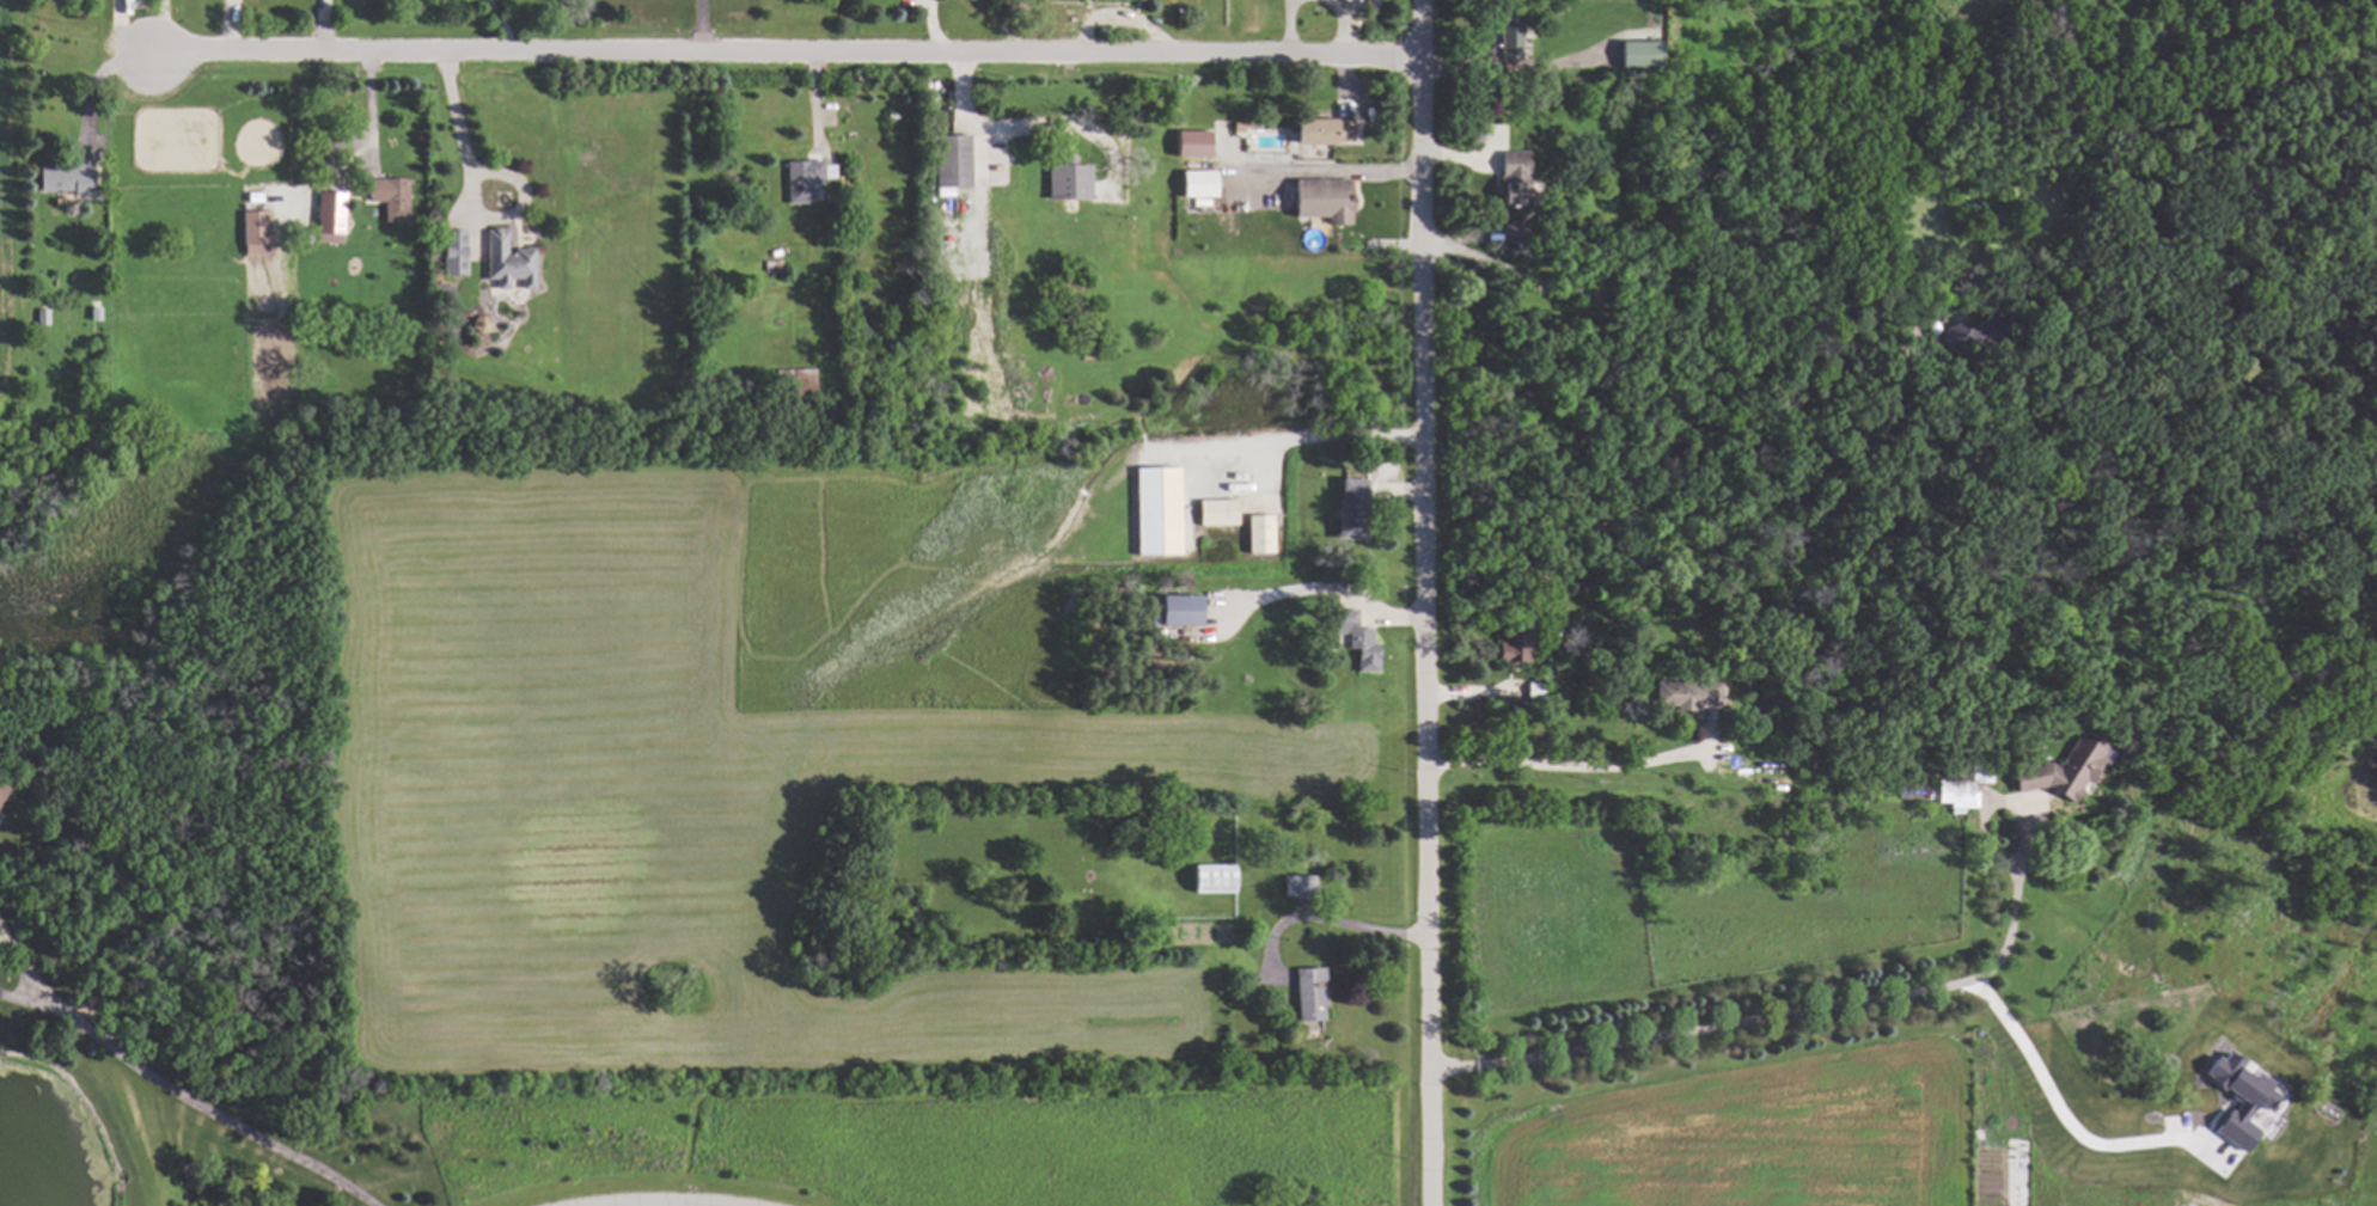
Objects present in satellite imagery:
road: (702, 27)
building: (1509, 42)
building: (1636, 55)
road: (778, 56)
road: (984, 126)
road: (458, 130)
building: (1319, 131)
building: (1187, 143)
building: (948, 161)
road: (1328, 161)
building: (63, 178)
building: (1511, 179)
building: (799, 180)
building: (1064, 180)
building: (1196, 184)
building: (387, 198)
building: (1318, 201)
building: (326, 218)
building: (251, 233)
building: (450, 253)
building: (506, 262)
road: (1662, 355)
building: (793, 382)
road: (1306, 435)
building: (1346, 509)
building: (1154, 512)
building: (1214, 513)
building: (1257, 534)
road: (1318, 588)
road: (1419, 602)
building: (1174, 612)
building: (1352, 638)
building: (1508, 653)
building: (1684, 696)
road: (1564, 766)
building: (2061, 771)
building: (1, 794)
building: (1955, 798)
building: (1210, 880)
building: (1296, 887)
road: (1322, 918)
road: (2011, 928)
building: (1306, 996)
road: (1844, 1000)
road: (183, 1092)
building: (2239, 1103)
road: (673, 1202)

